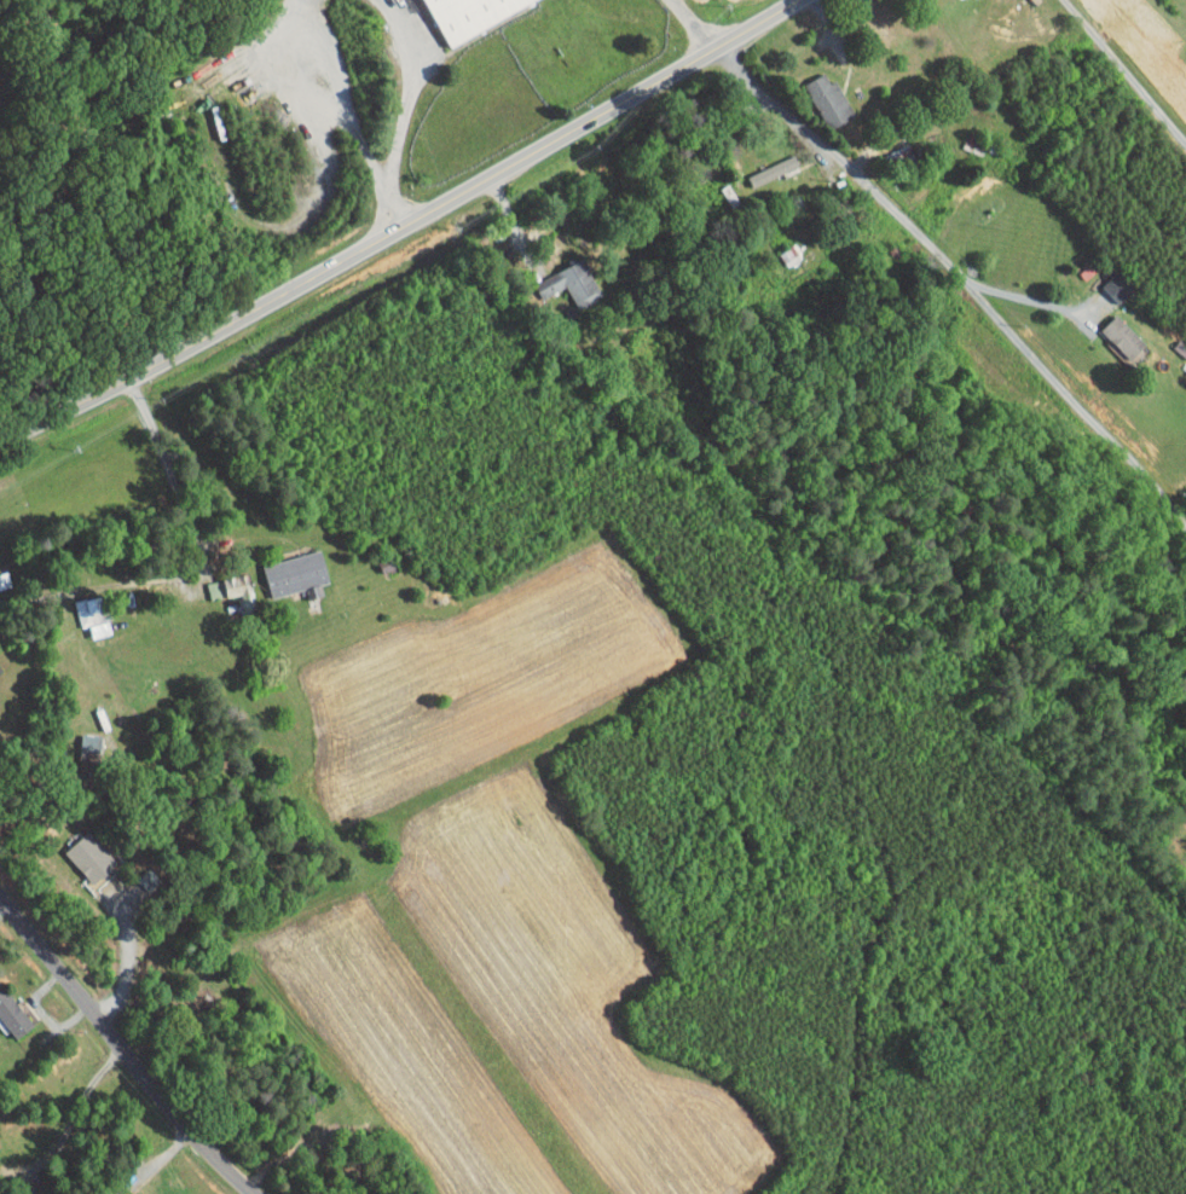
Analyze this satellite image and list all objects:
building: (453, 12)
road: (698, 23)
road: (1127, 71)
road: (409, 85)
road: (340, 91)
building: (816, 92)
building: (760, 162)
road: (397, 201)
road: (404, 228)
building: (557, 274)
road: (961, 277)
building: (1105, 279)
road: (1030, 298)
building: (1111, 329)
road: (191, 563)
building: (284, 566)
building: (222, 582)
building: (80, 609)
building: (74, 737)
building: (79, 850)
road: (4, 911)
road: (127, 958)
building: (6, 1013)
road: (982, 1041)
road: (123, 1049)
road: (63, 1101)

